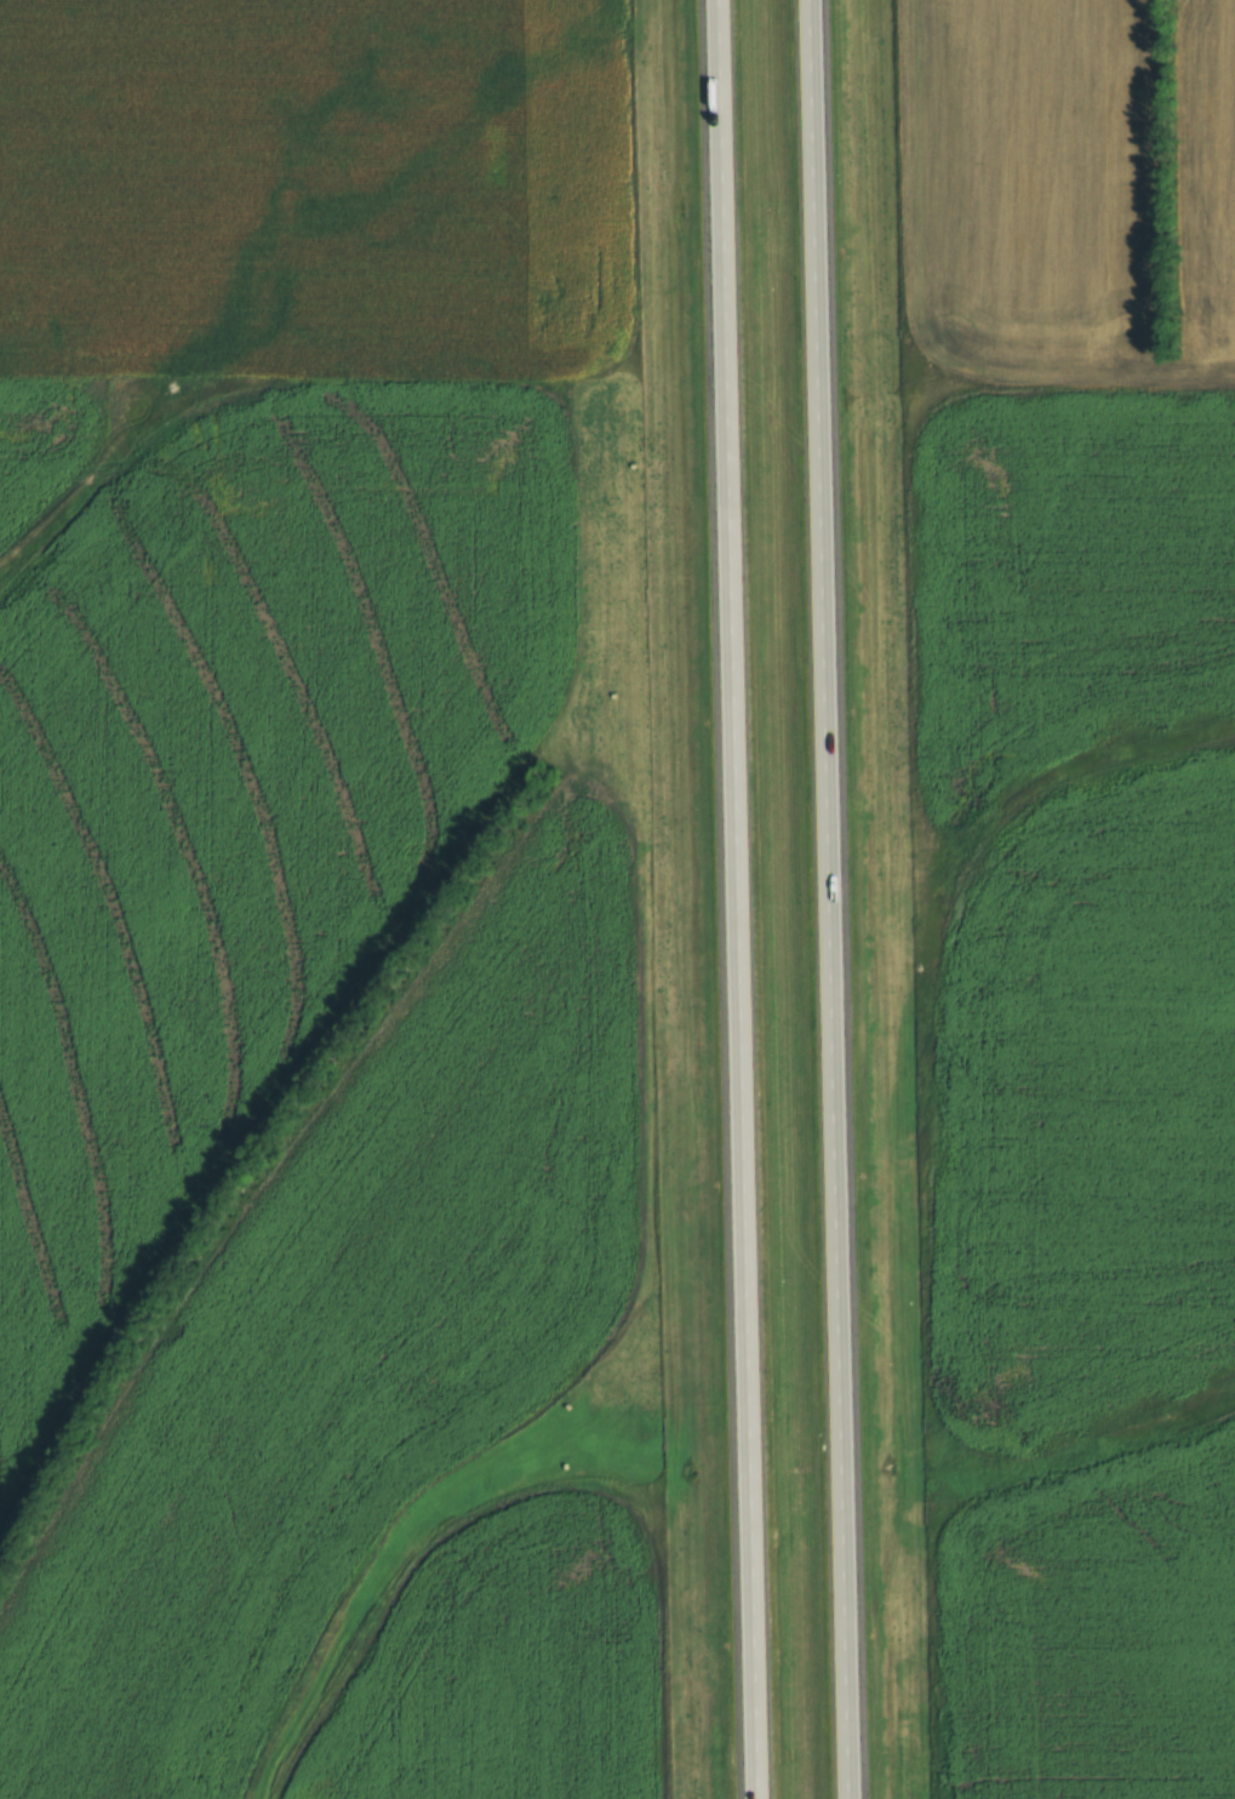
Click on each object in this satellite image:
road: (741, 898)
road: (840, 898)

